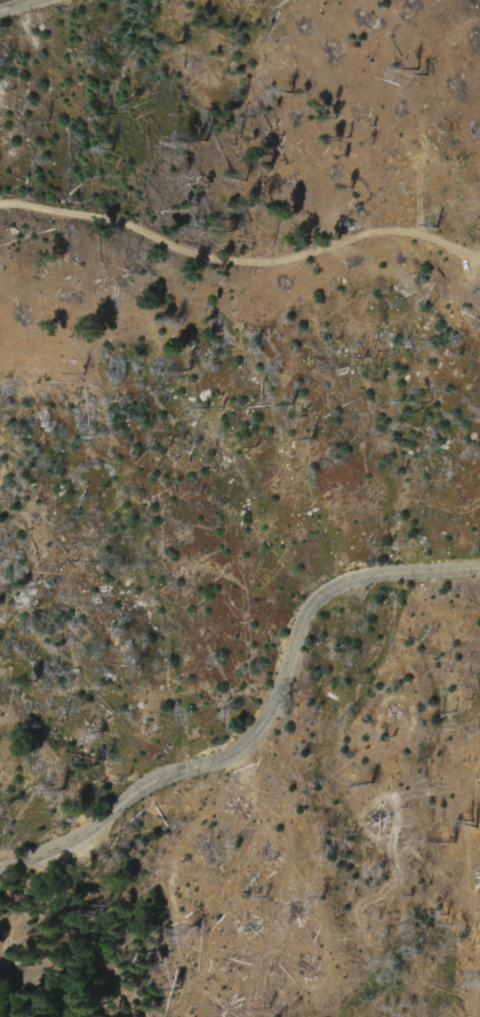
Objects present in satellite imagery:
road: (14, 3)
road: (239, 258)
road: (265, 720)
road: (173, 899)
road: (20, 998)
road: (52, 998)

